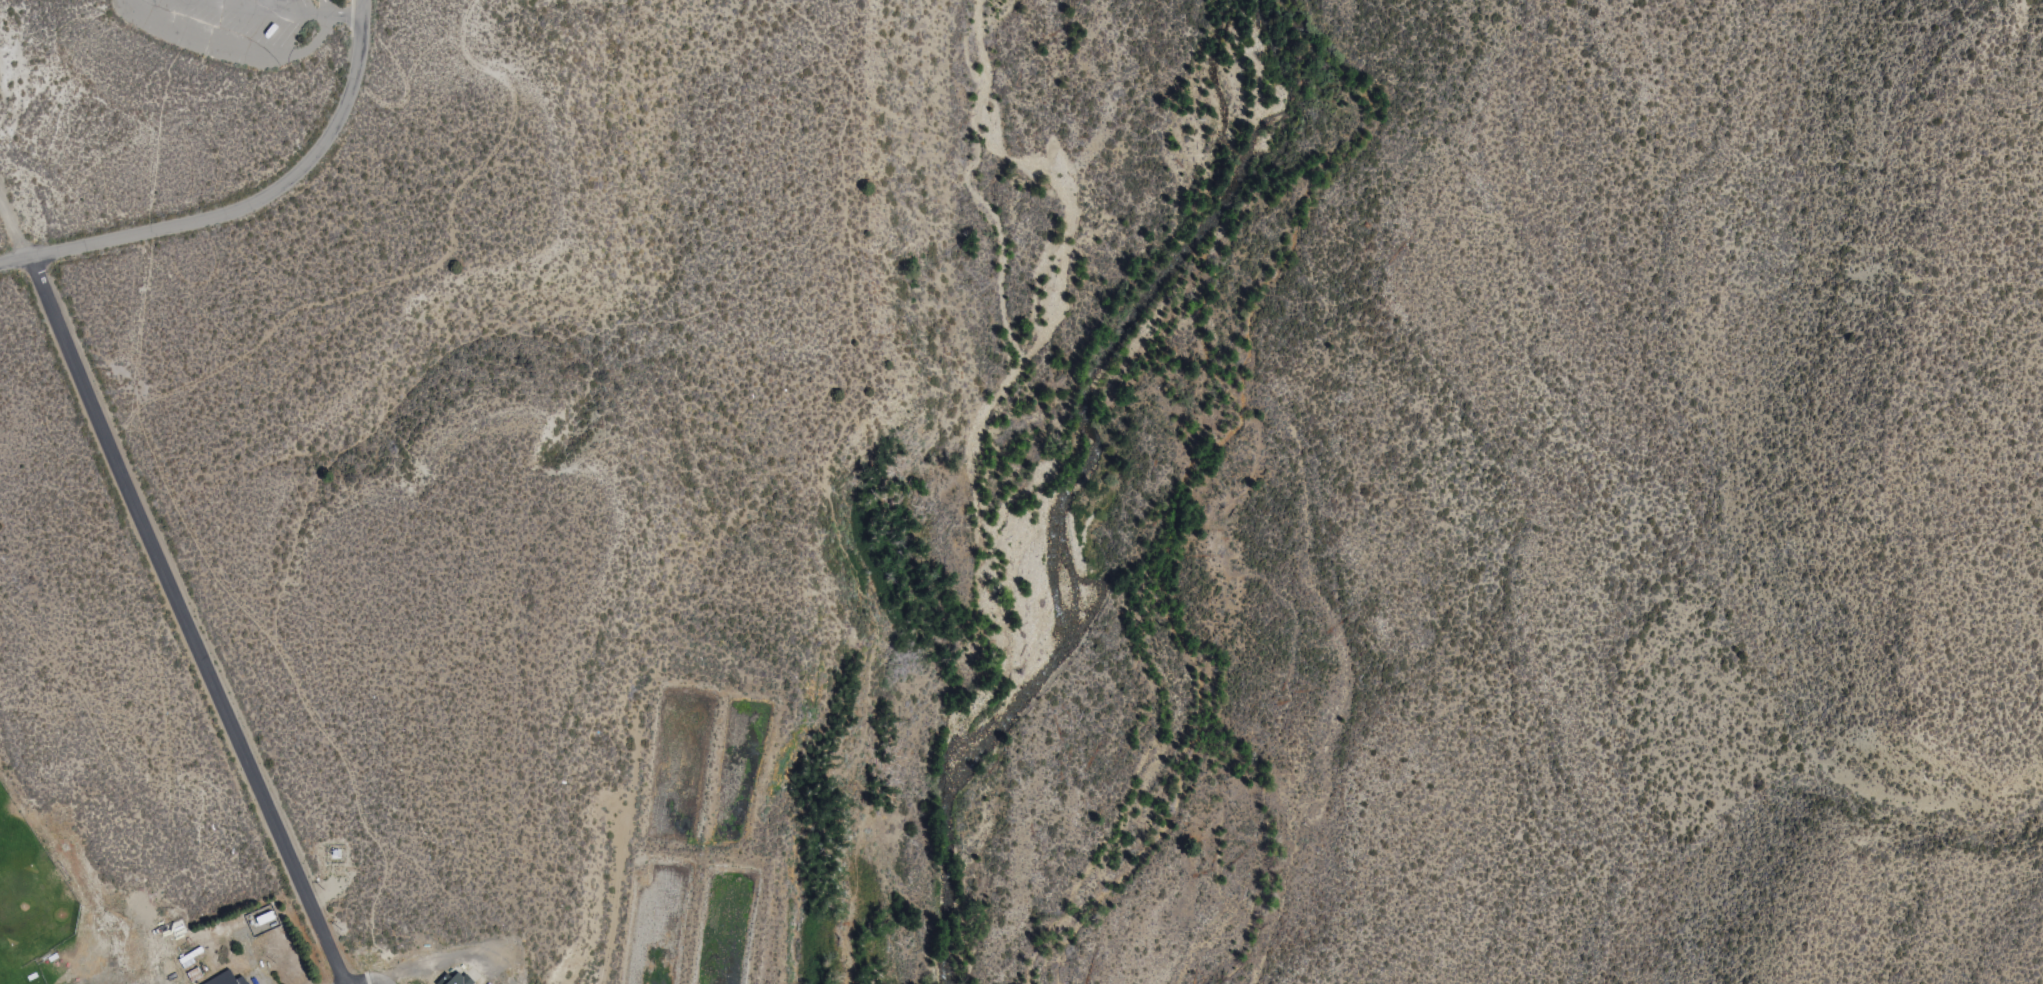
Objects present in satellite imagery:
road: (323, 8)
road: (360, 8)
road: (298, 14)
parking lot: (238, 27)
road: (228, 51)
road: (235, 207)
road: (5, 222)
road: (14, 230)
road: (827, 478)
road: (179, 623)
park: (5, 842)
park: (37, 912)
road: (451, 961)
building: (230, 979)
park: (1, 981)
building: (459, 981)
building: (247, 983)

